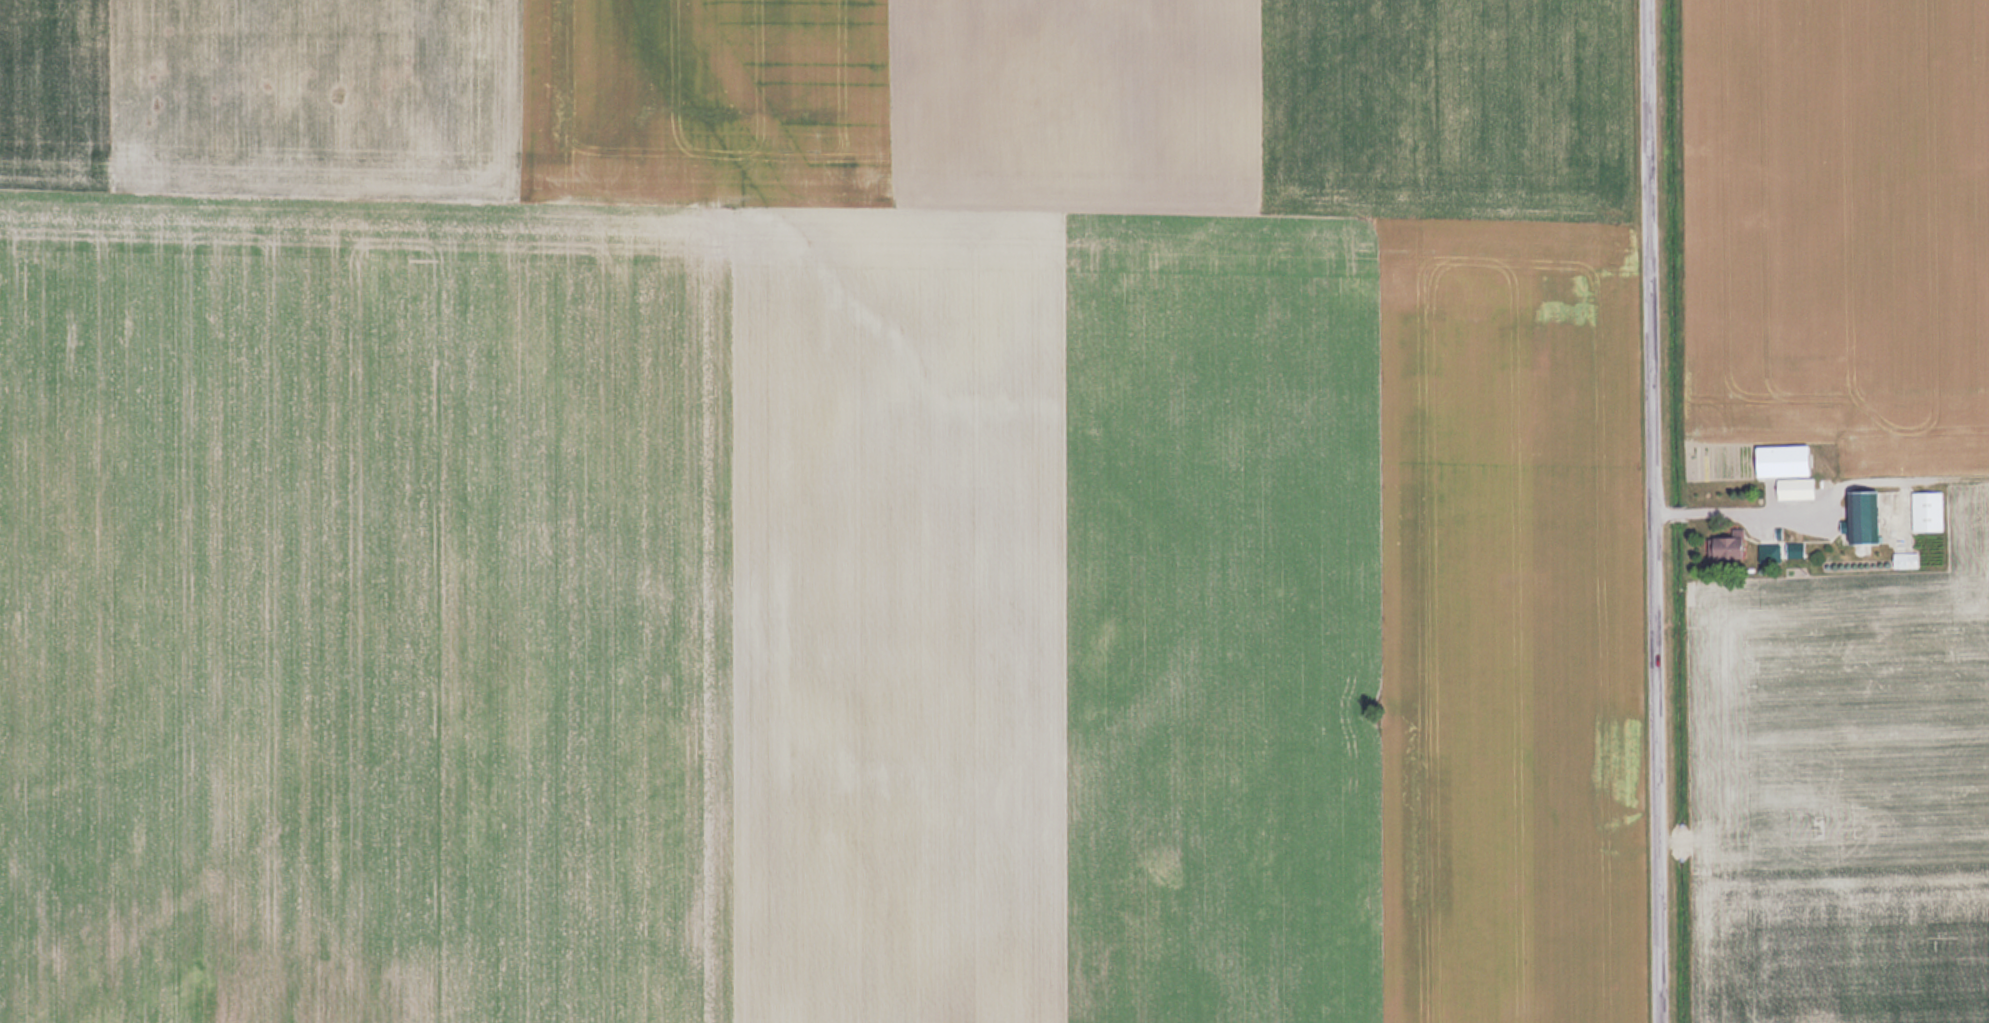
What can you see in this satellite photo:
building: (1784, 470)
road: (1656, 511)
building: (1925, 511)
building: (1861, 516)
building: (1723, 546)
building: (1769, 552)
building: (1792, 552)
building: (1904, 559)

